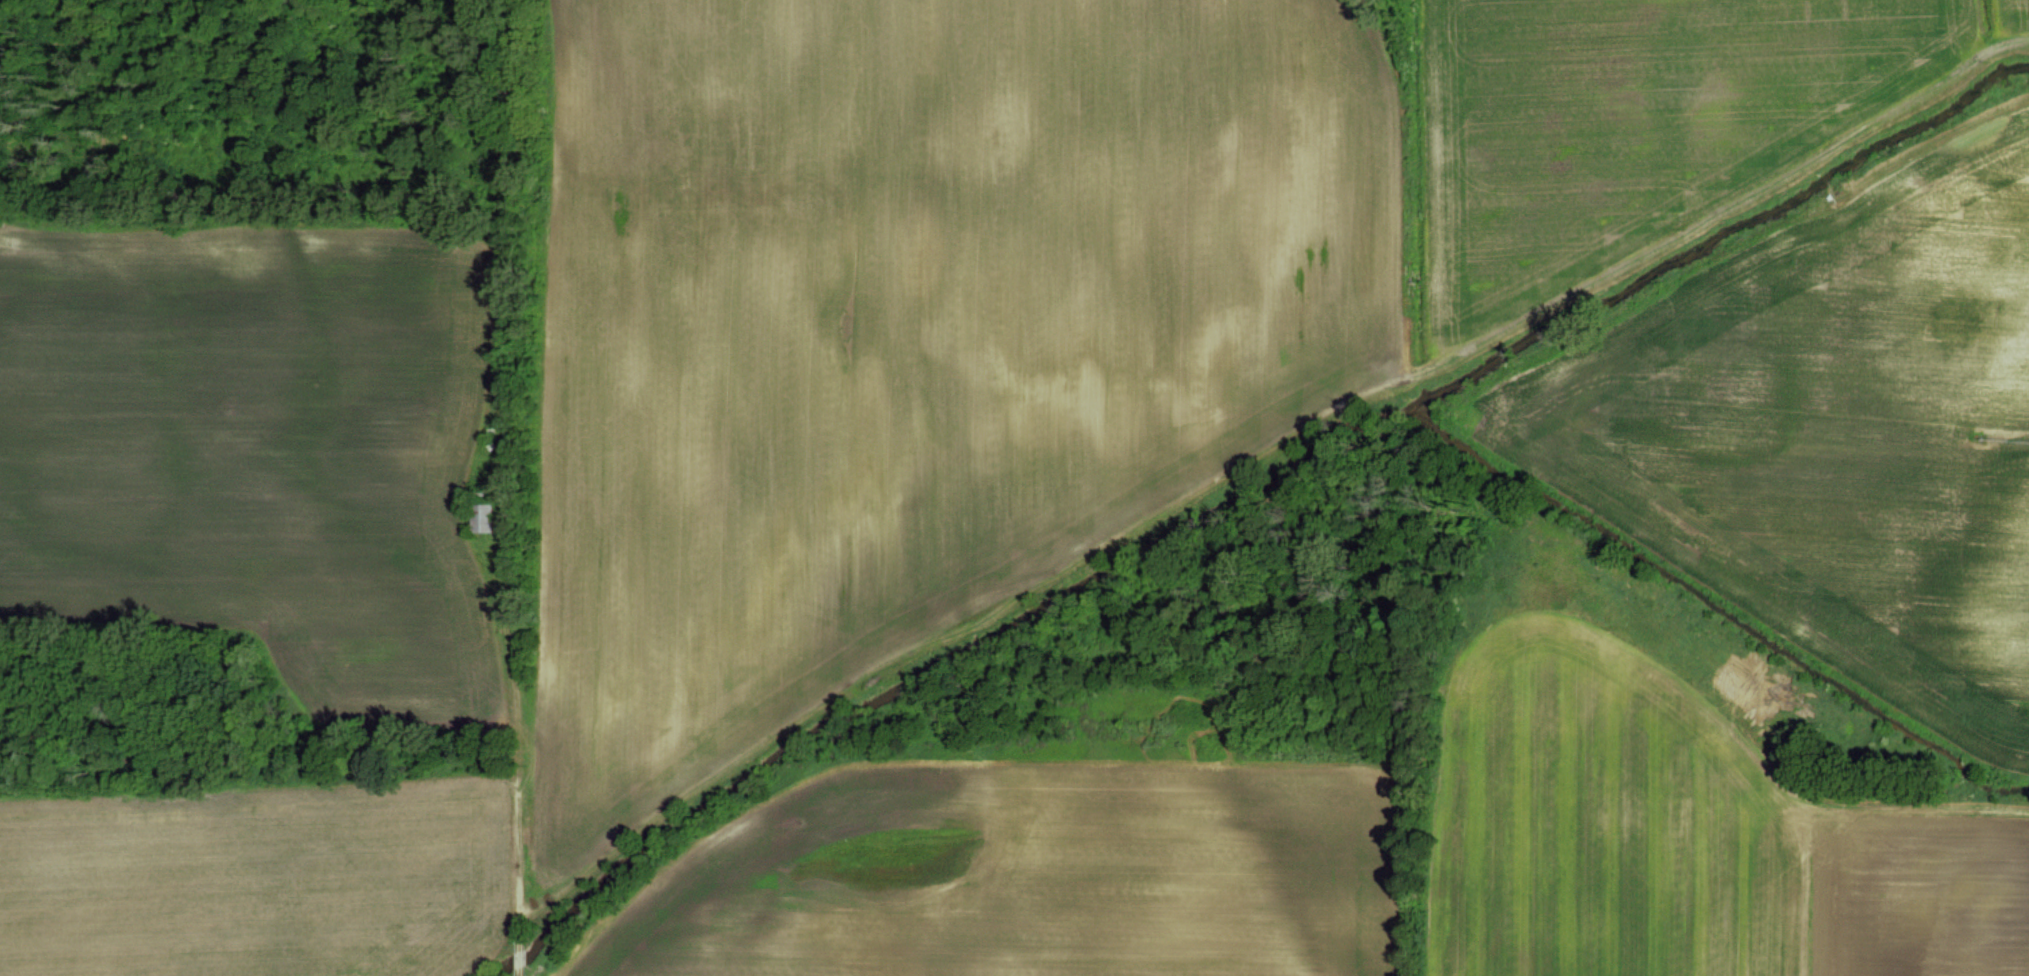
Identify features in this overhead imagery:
road: (519, 780)

